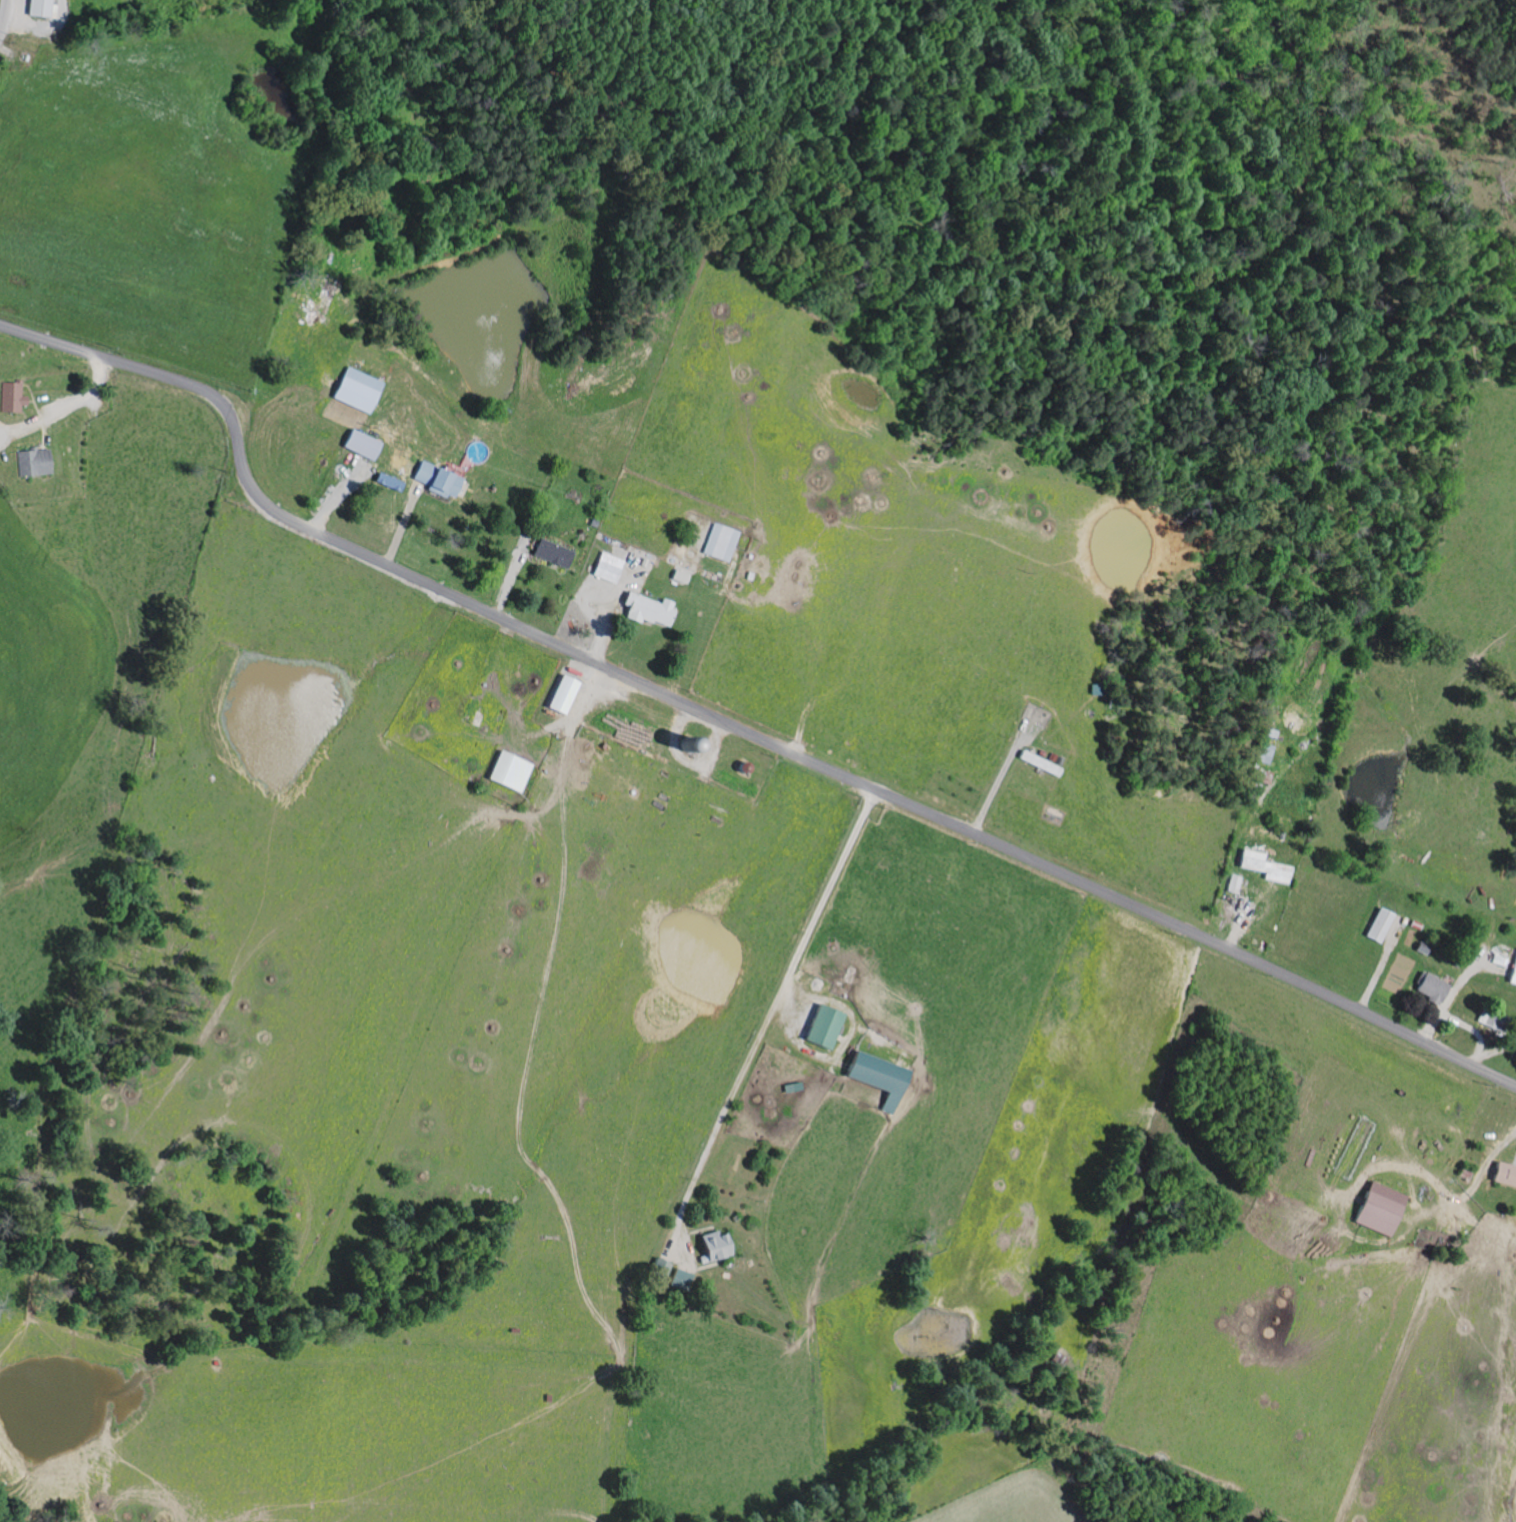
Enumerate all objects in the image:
building: (35, 8)
road: (3, 13)
road: (41, 27)
building: (353, 390)
building: (11, 398)
road: (64, 408)
building: (359, 445)
building: (33, 462)
building: (432, 480)
building: (385, 482)
building: (719, 543)
building: (551, 553)
building: (607, 567)
building: (647, 610)
building: (561, 695)
road: (732, 727)
building: (1038, 763)
road: (994, 789)
building: (1263, 866)
building: (1233, 884)
road: (823, 900)
building: (1377, 924)
building: (1513, 971)
building: (1430, 987)
road: (1462, 1023)
building: (820, 1025)
building: (876, 1076)
building: (1504, 1174)
building: (1378, 1208)
building: (711, 1245)

